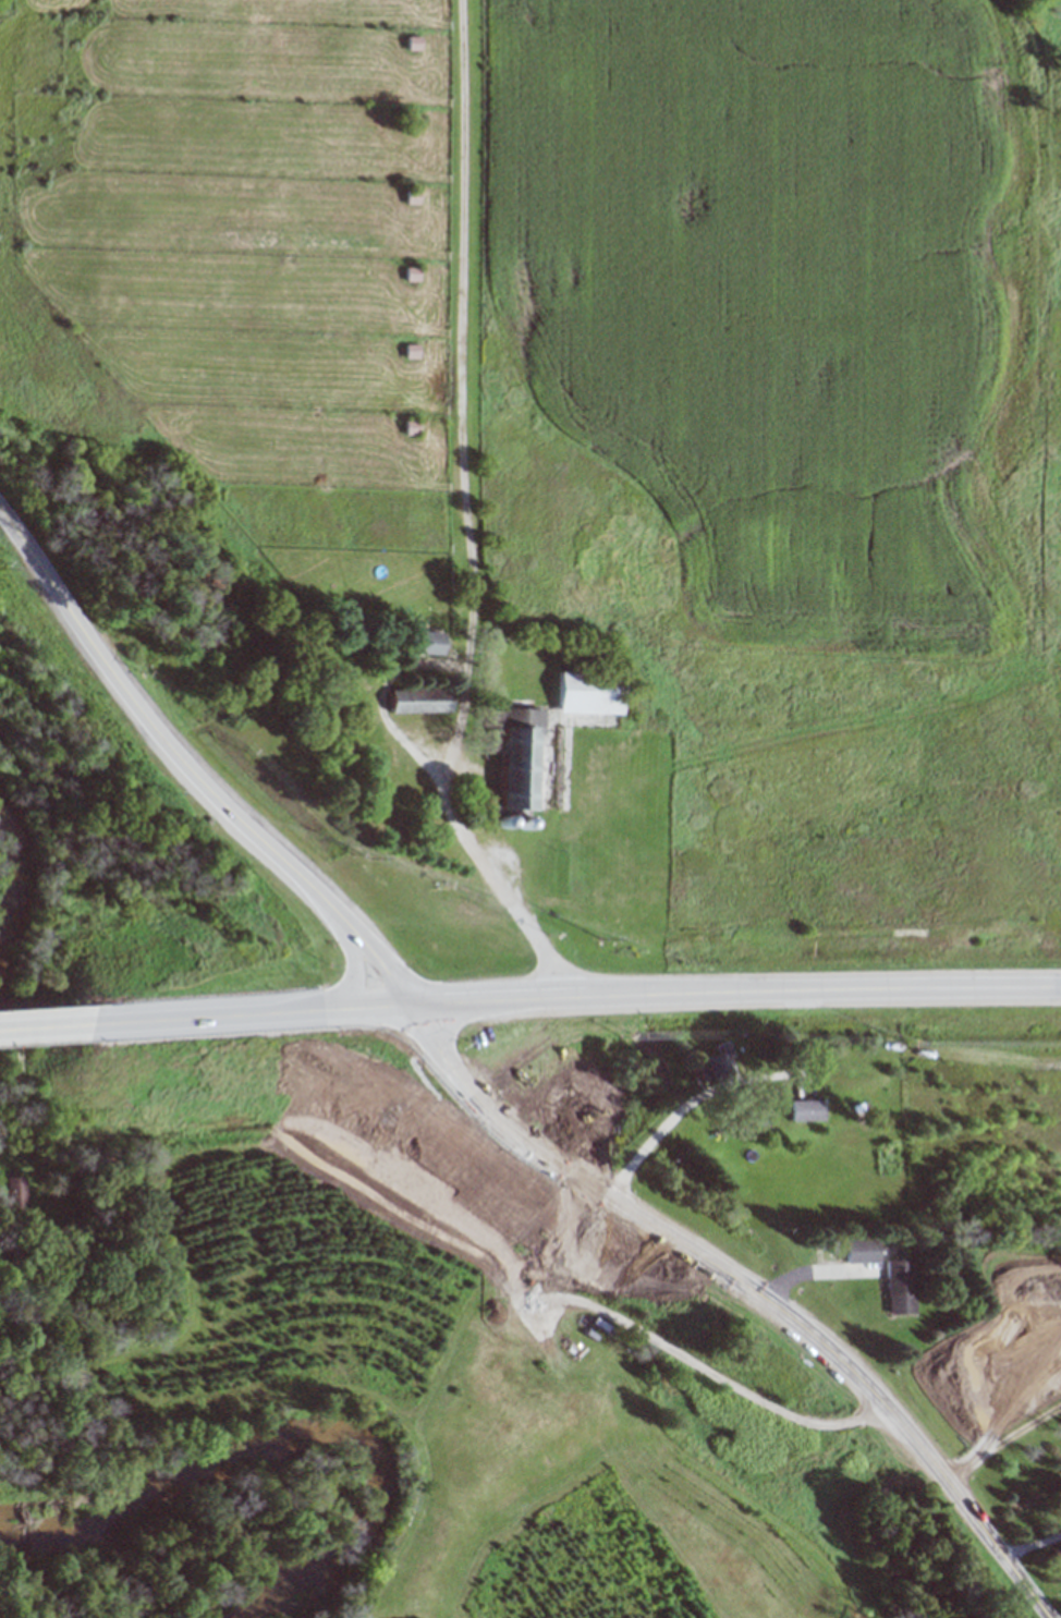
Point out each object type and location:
building: (412, 44)
building: (412, 197)
building: (412, 275)
building: (413, 427)
crop: (569, 454)
building: (426, 642)
building: (589, 692)
building: (417, 699)
road: (149, 719)
building: (515, 757)
river: (9, 892)
road: (373, 928)
road: (345, 947)
road: (385, 968)
road: (496, 986)
road: (802, 990)
road: (301, 1005)
road: (508, 1014)
road: (162, 1020)
road: (309, 1026)
road: (38, 1027)
building: (712, 1062)
road: (462, 1066)
road: (446, 1091)
building: (805, 1109)
building: (16, 1192)
building: (861, 1250)
building: (900, 1286)
road: (796, 1322)
road: (731, 1385)
river: (308, 1424)

